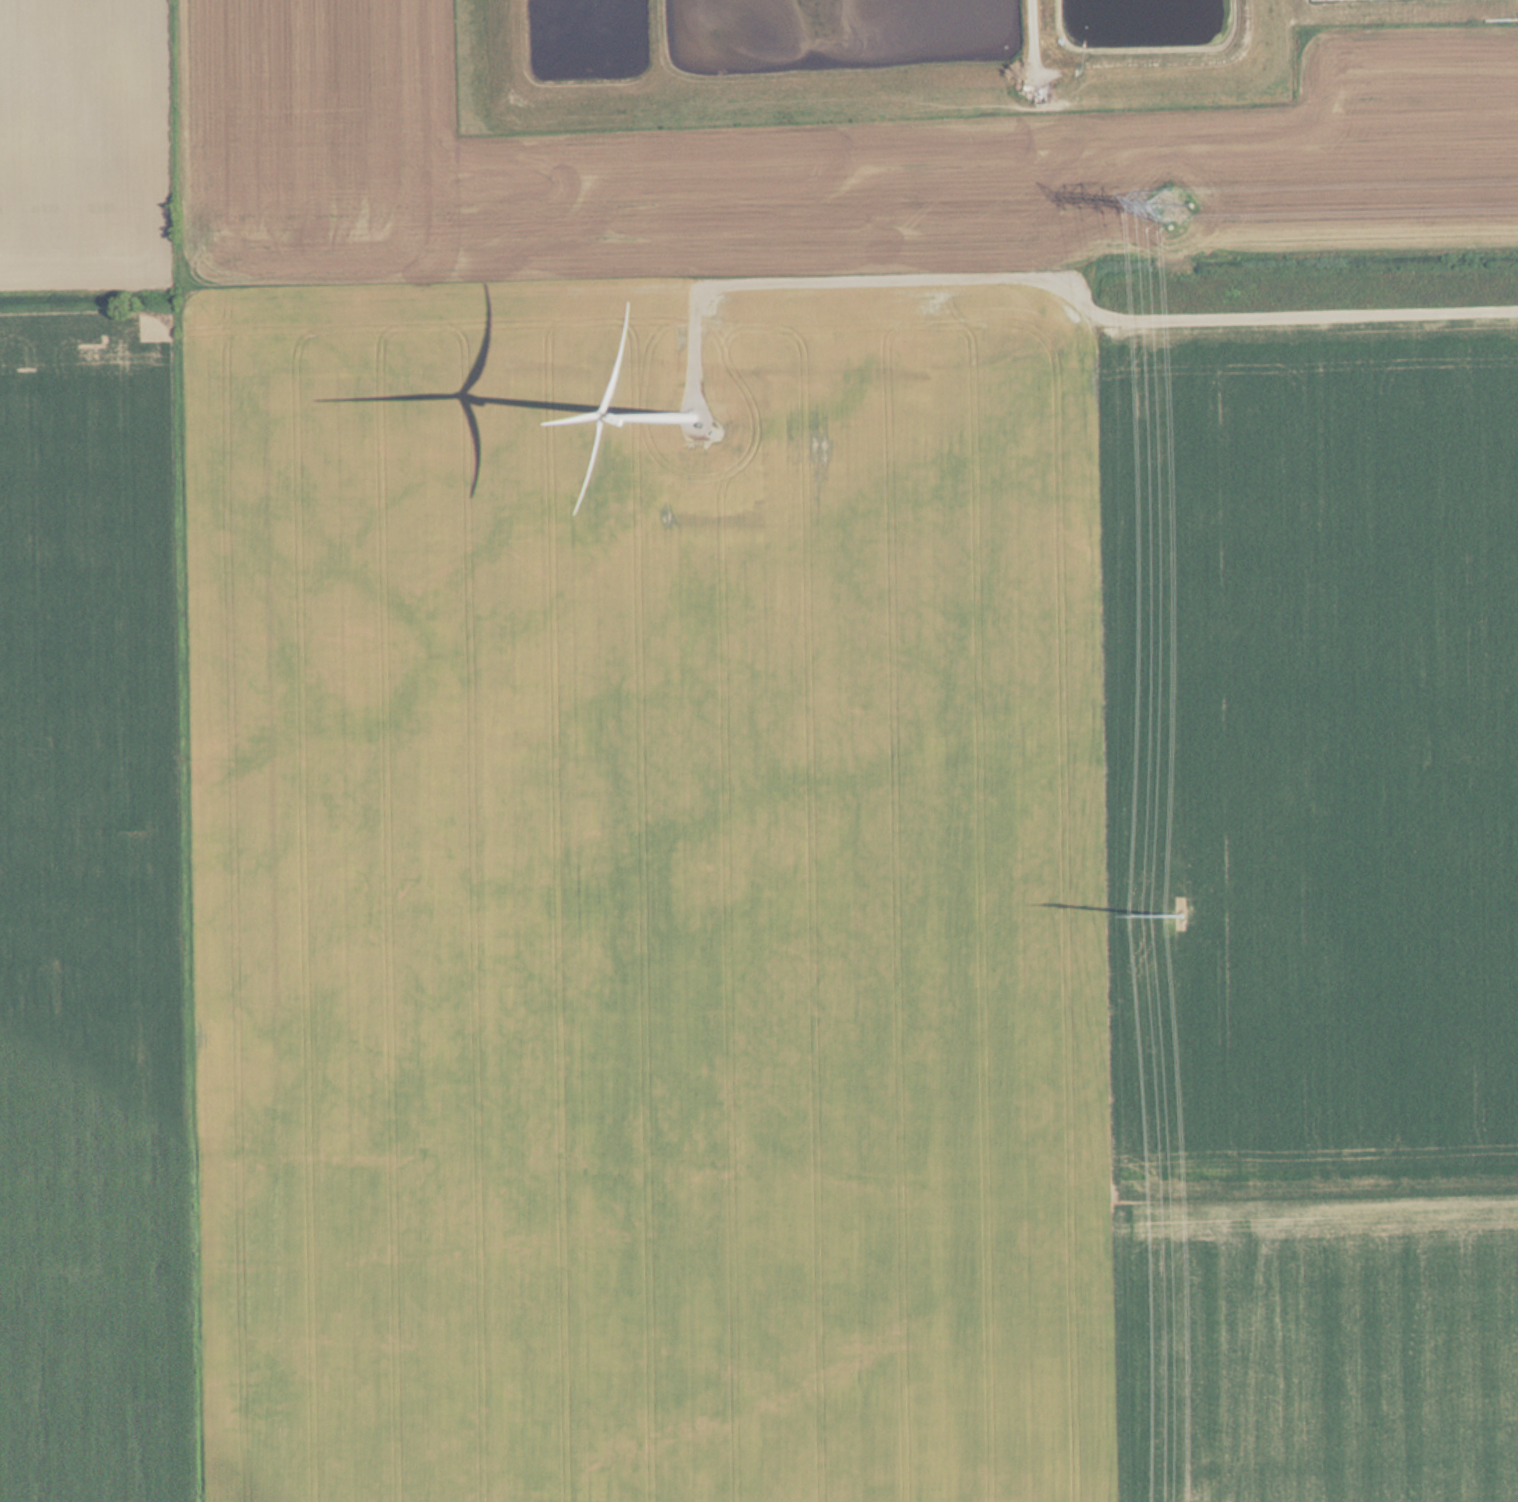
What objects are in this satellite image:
power tower: (1179, 187)
road: (1102, 313)
wind turbine: (693, 411)
power tower: (1181, 906)

